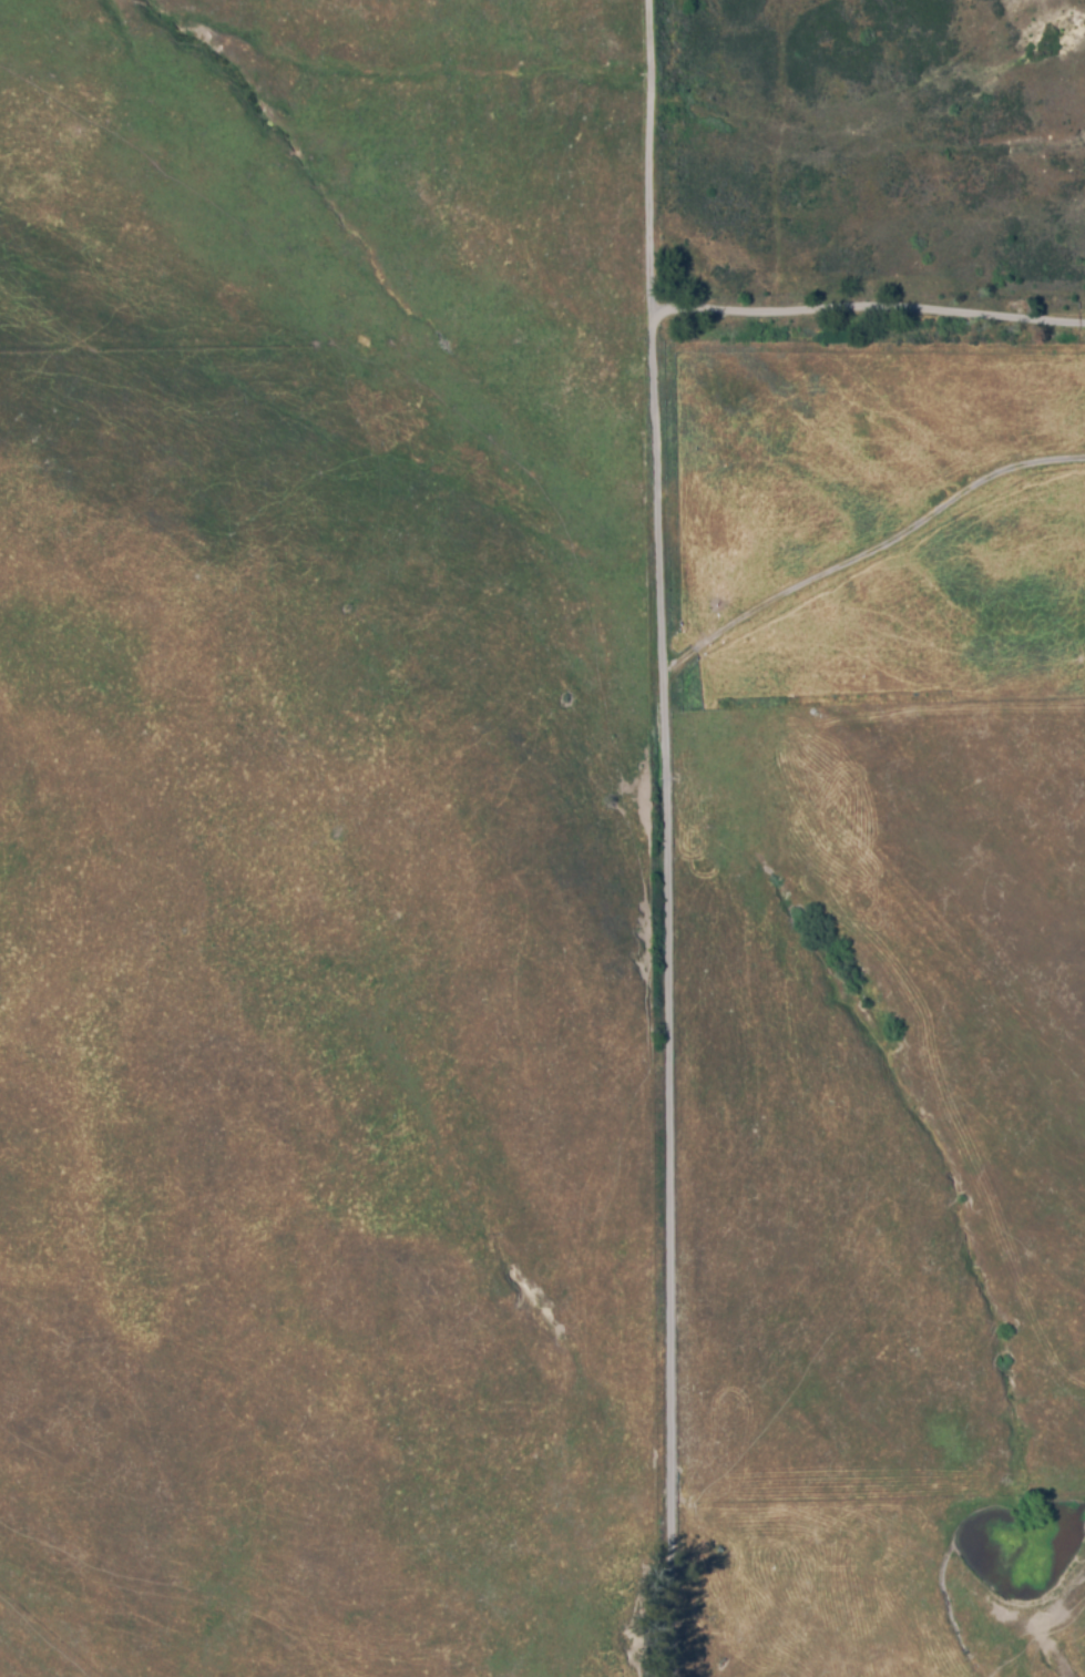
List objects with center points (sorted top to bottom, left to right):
road: (870, 308)
road: (661, 838)

